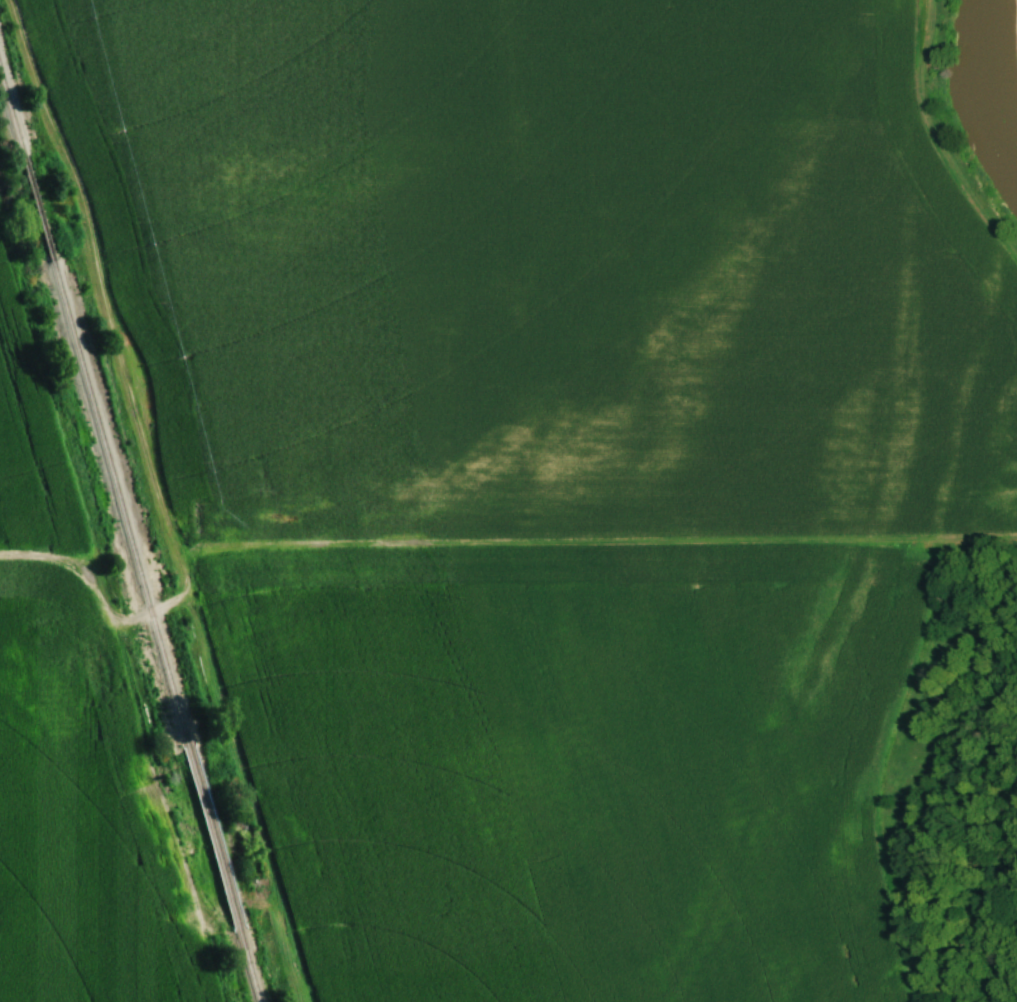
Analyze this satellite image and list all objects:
river: (991, 100)
railway: (130, 538)

